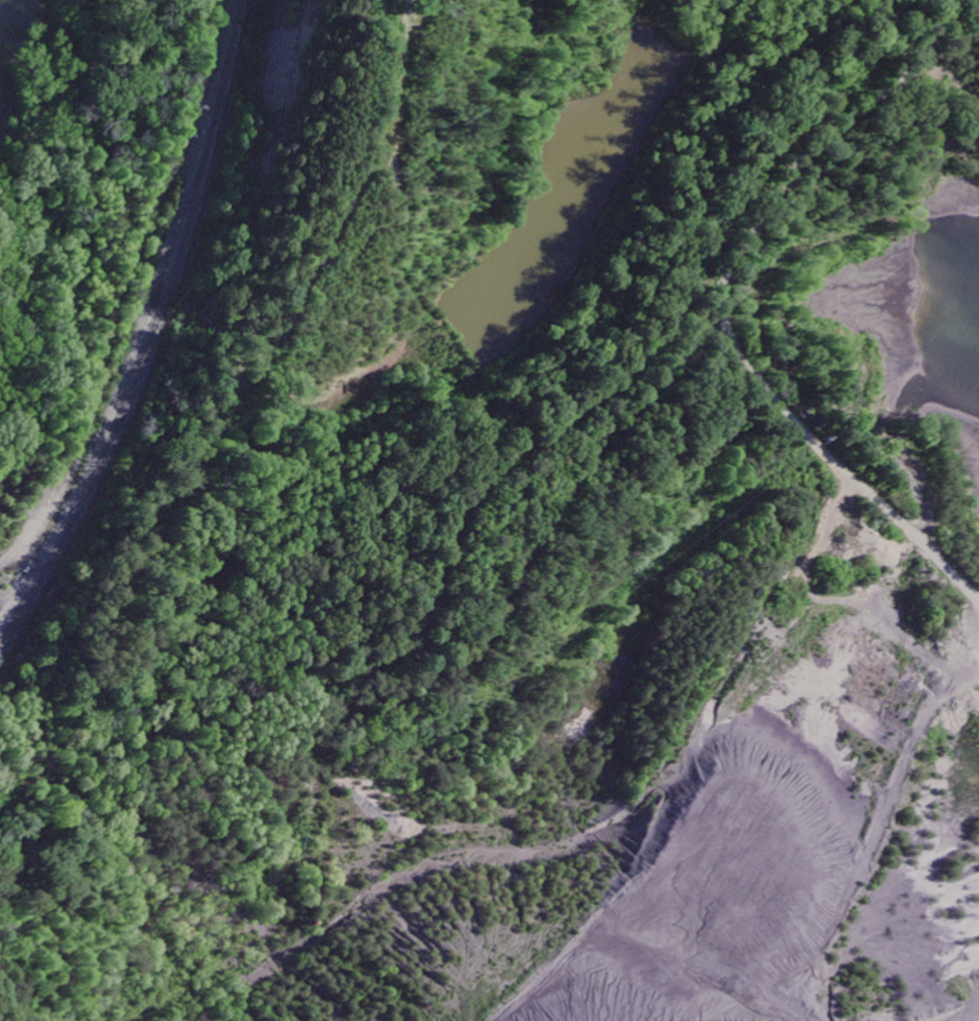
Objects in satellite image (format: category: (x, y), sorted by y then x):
road: (729, 307)
railway: (151, 334)

